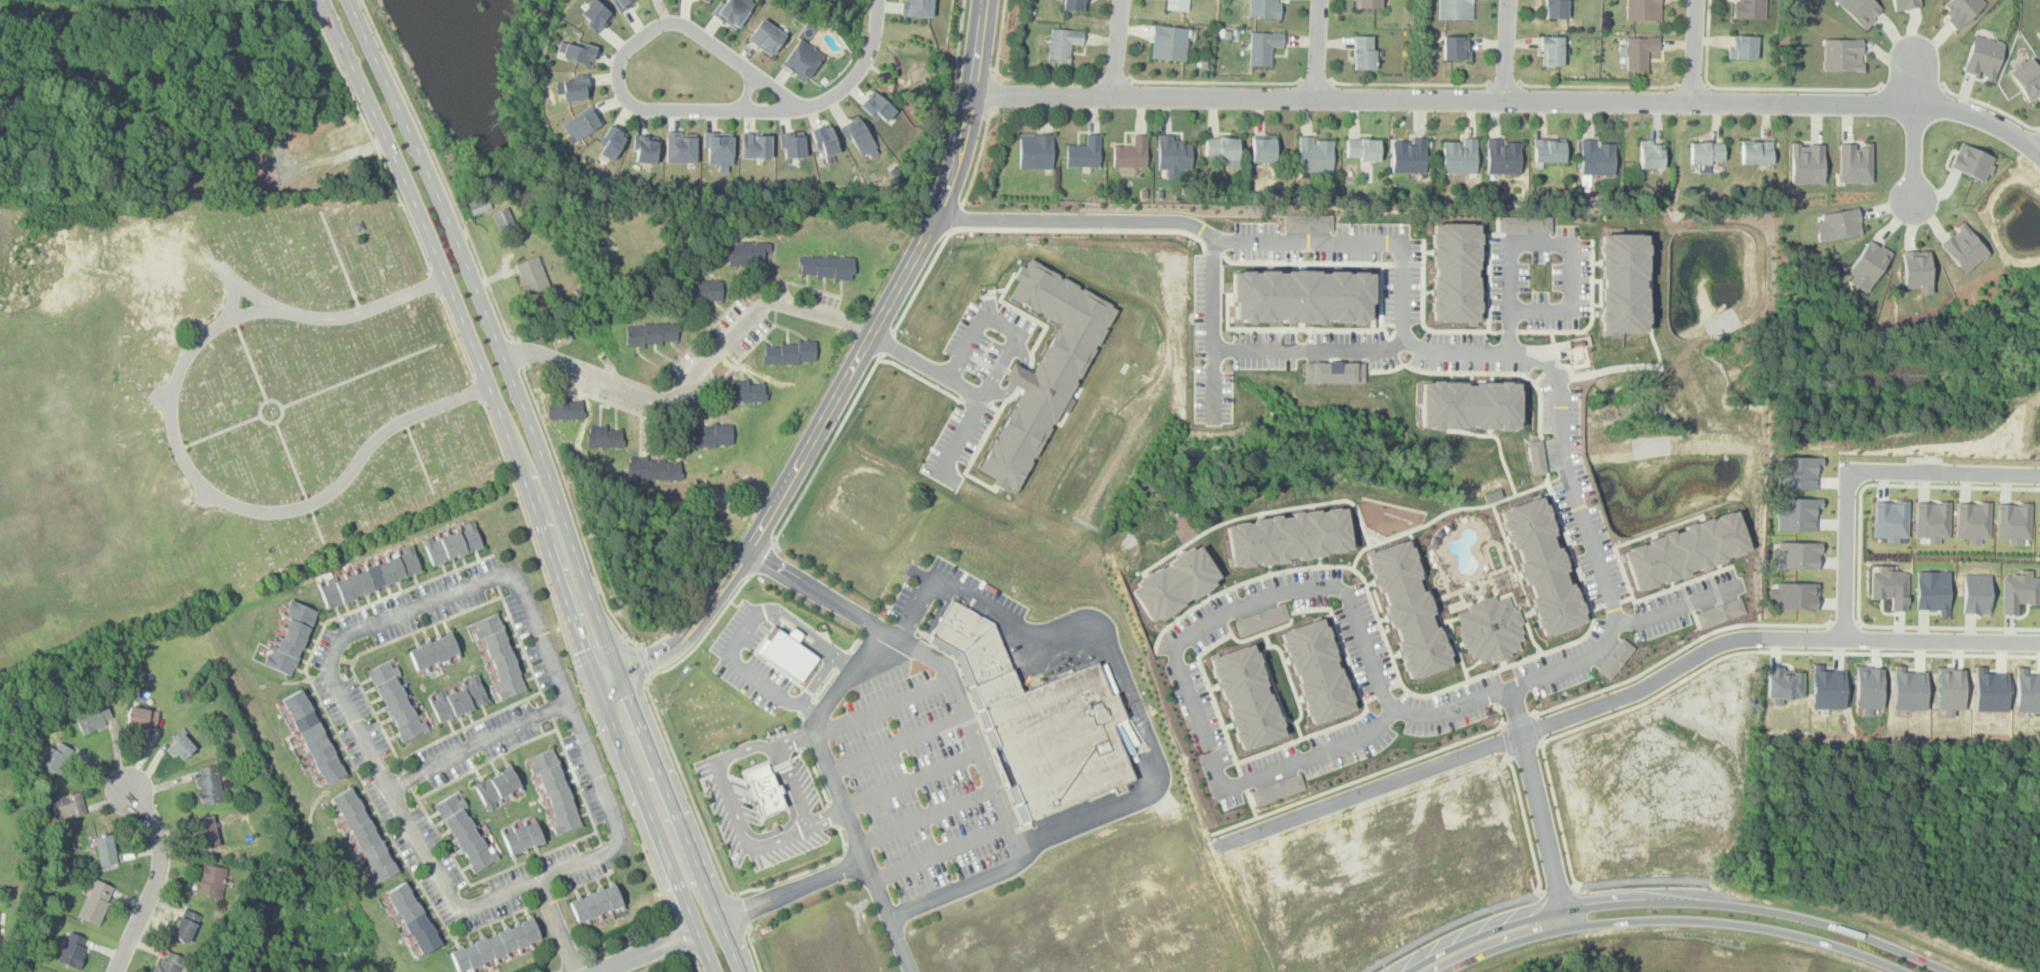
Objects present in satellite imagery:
building: (706, 0)
building: (1284, 0)
building: (621, 3)
building: (1367, 4)
building: (1906, 4)
building: (1074, 5)
building: (1177, 5)
building: (918, 8)
building: (1265, 8)
building: (1455, 9)
building: (1556, 9)
building: (1748, 9)
building: (1643, 10)
building: (1862, 10)
building: (1963, 10)
building: (733, 11)
building: (596, 15)
building: (2039, 34)
building: (765, 37)
road: (999, 39)
building: (1168, 43)
building: (1062, 44)
road: (977, 46)
building: (1262, 46)
road: (1118, 47)
building: (1744, 47)
road: (1318, 48)
building: (1456, 48)
road: (1507, 49)
building: (1553, 51)
road: (1694, 51)
building: (578, 52)
building: (1364, 52)
building: (1640, 52)
building: (1843, 54)
building: (1984, 56)
road: (621, 58)
building: (801, 60)
road: (958, 66)
road: (861, 67)
road: (975, 69)
road: (993, 70)
building: (2028, 77)
road: (999, 79)
road: (1048, 79)
road: (1113, 79)
road: (1316, 80)
road: (1215, 81)
road: (1410, 83)
road: (1504, 84)
road: (1694, 84)
road: (1913, 85)
road: (1598, 86)
building: (573, 88)
road: (1753, 88)
road: (747, 91)
road: (950, 93)
road: (995, 94)
road: (1511, 99)
road: (1990, 105)
building: (877, 107)
road: (952, 107)
road: (968, 111)
road: (967, 114)
road: (986, 115)
building: (581, 123)
road: (1913, 128)
road: (369, 134)
building: (859, 137)
building: (824, 140)
building: (610, 142)
building: (755, 146)
building: (792, 146)
building: (1221, 148)
building: (645, 149)
building: (680, 149)
building: (719, 149)
building: (1363, 149)
building: (1263, 150)
building: (1034, 151)
building: (1550, 151)
building: (1706, 152)
building: (1756, 152)
building: (1083, 153)
building: (1130, 154)
building: (1173, 154)
building: (1315, 155)
building: (1651, 155)
road: (978, 156)
building: (1408, 156)
building: (1459, 156)
building: (1503, 157)
building: (1597, 158)
road: (395, 162)
building: (1854, 162)
building: (1972, 162)
building: (1807, 163)
road: (440, 169)
road: (430, 175)
road: (950, 176)
building: (478, 206)
road: (956, 218)
building: (499, 219)
building: (1309, 221)
building: (1838, 223)
building: (1525, 224)
road: (1078, 229)
road: (1555, 235)
building: (1964, 248)
building: (744, 254)
building: (1867, 264)
building: (825, 267)
building: (1917, 269)
building: (1455, 271)
building: (531, 277)
road: (921, 280)
road: (433, 282)
building: (1623, 284)
building: (703, 291)
road: (247, 292)
building: (1303, 296)
road: (232, 300)
road: (1224, 319)
road: (1412, 325)
building: (651, 334)
road: (456, 335)
road: (866, 341)
road: (885, 343)
road: (1319, 343)
road: (520, 351)
building: (788, 353)
road: (1010, 354)
road: (477, 356)
road: (249, 360)
road: (928, 364)
building: (1046, 368)
road: (693, 372)
building: (1335, 372)
road: (357, 377)
road: (921, 378)
road: (478, 390)
building: (746, 391)
road: (158, 395)
park: (206, 401)
building: (1469, 404)
building: (564, 408)
road: (275, 422)
road: (218, 432)
building: (707, 436)
building: (607, 440)
road: (178, 449)
road: (825, 452)
building: (1537, 457)
road: (291, 464)
building: (663, 471)
road: (1859, 471)
building: (1797, 472)
road: (1882, 484)
road: (197, 495)
road: (772, 506)
road: (575, 510)
building: (1796, 513)
building: (1890, 519)
building: (1932, 520)
building: (1973, 521)
building: (2013, 521)
building: (1285, 537)
building: (453, 545)
building: (1689, 550)
building: (1796, 554)
road: (762, 562)
building: (1546, 566)
road: (732, 571)
building: (369, 577)
building: (1170, 583)
road: (1303, 586)
building: (1890, 586)
building: (2019, 590)
building: (1933, 591)
building: (1976, 593)
building: (1794, 595)
road: (1683, 602)
building: (1404, 609)
building: (1722, 612)
building: (1260, 619)
road: (1844, 623)
road: (1949, 626)
building: (1489, 627)
road: (809, 632)
road: (705, 633)
road: (1820, 638)
building: (290, 639)
road: (344, 639)
road: (855, 639)
road: (1942, 640)
building: (973, 641)
road: (595, 644)
road: (675, 644)
building: (783, 647)
road: (1780, 650)
road: (1108, 651)
road: (1678, 651)
building: (433, 652)
building: (497, 656)
road: (842, 656)
building: (1617, 658)
road: (643, 660)
road: (616, 664)
road: (934, 664)
road: (750, 671)
building: (1318, 671)
traffic signals: (620, 674)
road: (608, 680)
road: (825, 680)
road: (595, 681)
building: (1784, 684)
traffic signals: (597, 686)
building: (1828, 687)
building: (1868, 688)
building: (1909, 689)
building: (1950, 690)
building: (1991, 690)
building: (2028, 690)
building: (1248, 697)
building: (396, 700)
building: (458, 701)
road: (805, 702)
road: (583, 706)
road: (882, 708)
road: (799, 717)
building: (140, 718)
road: (1518, 718)
building: (92, 719)
road: (1539, 727)
road: (798, 735)
building: (1056, 737)
building: (312, 738)
road: (1508, 738)
road: (1504, 740)
road: (796, 741)
road: (896, 745)
road: (476, 746)
building: (180, 747)
road: (1525, 750)
road: (1313, 754)
building: (53, 758)
road: (816, 773)
road: (1366, 775)
road: (911, 781)
road: (685, 784)
building: (209, 786)
building: (497, 786)
road: (793, 786)
building: (763, 788)
building: (1278, 789)
building: (555, 790)
parking lot: (915, 791)
road: (837, 793)
road: (729, 802)
building: (66, 805)
road: (1538, 806)
road: (832, 810)
road: (1557, 813)
road: (825, 816)
road: (924, 817)
road: (1525, 824)
building: (205, 831)
building: (465, 831)
building: (362, 835)
building: (521, 838)
building: (104, 851)
road: (939, 855)
road: (803, 867)
road: (155, 878)
road: (1643, 879)
building: (209, 881)
road: (1557, 887)
road: (791, 890)
road: (954, 891)
road: (1675, 894)
building: (95, 902)
building: (594, 904)
road: (740, 904)
road: (1668, 919)
building: (412, 920)
building: (184, 925)
road: (555, 925)
road: (1445, 925)
road: (674, 937)
building: (494, 946)
road: (752, 946)
building: (71, 949)
road: (647, 949)
road: (695, 958)
road: (659, 962)
building: (167, 964)
road: (573, 965)
road: (556, 971)

